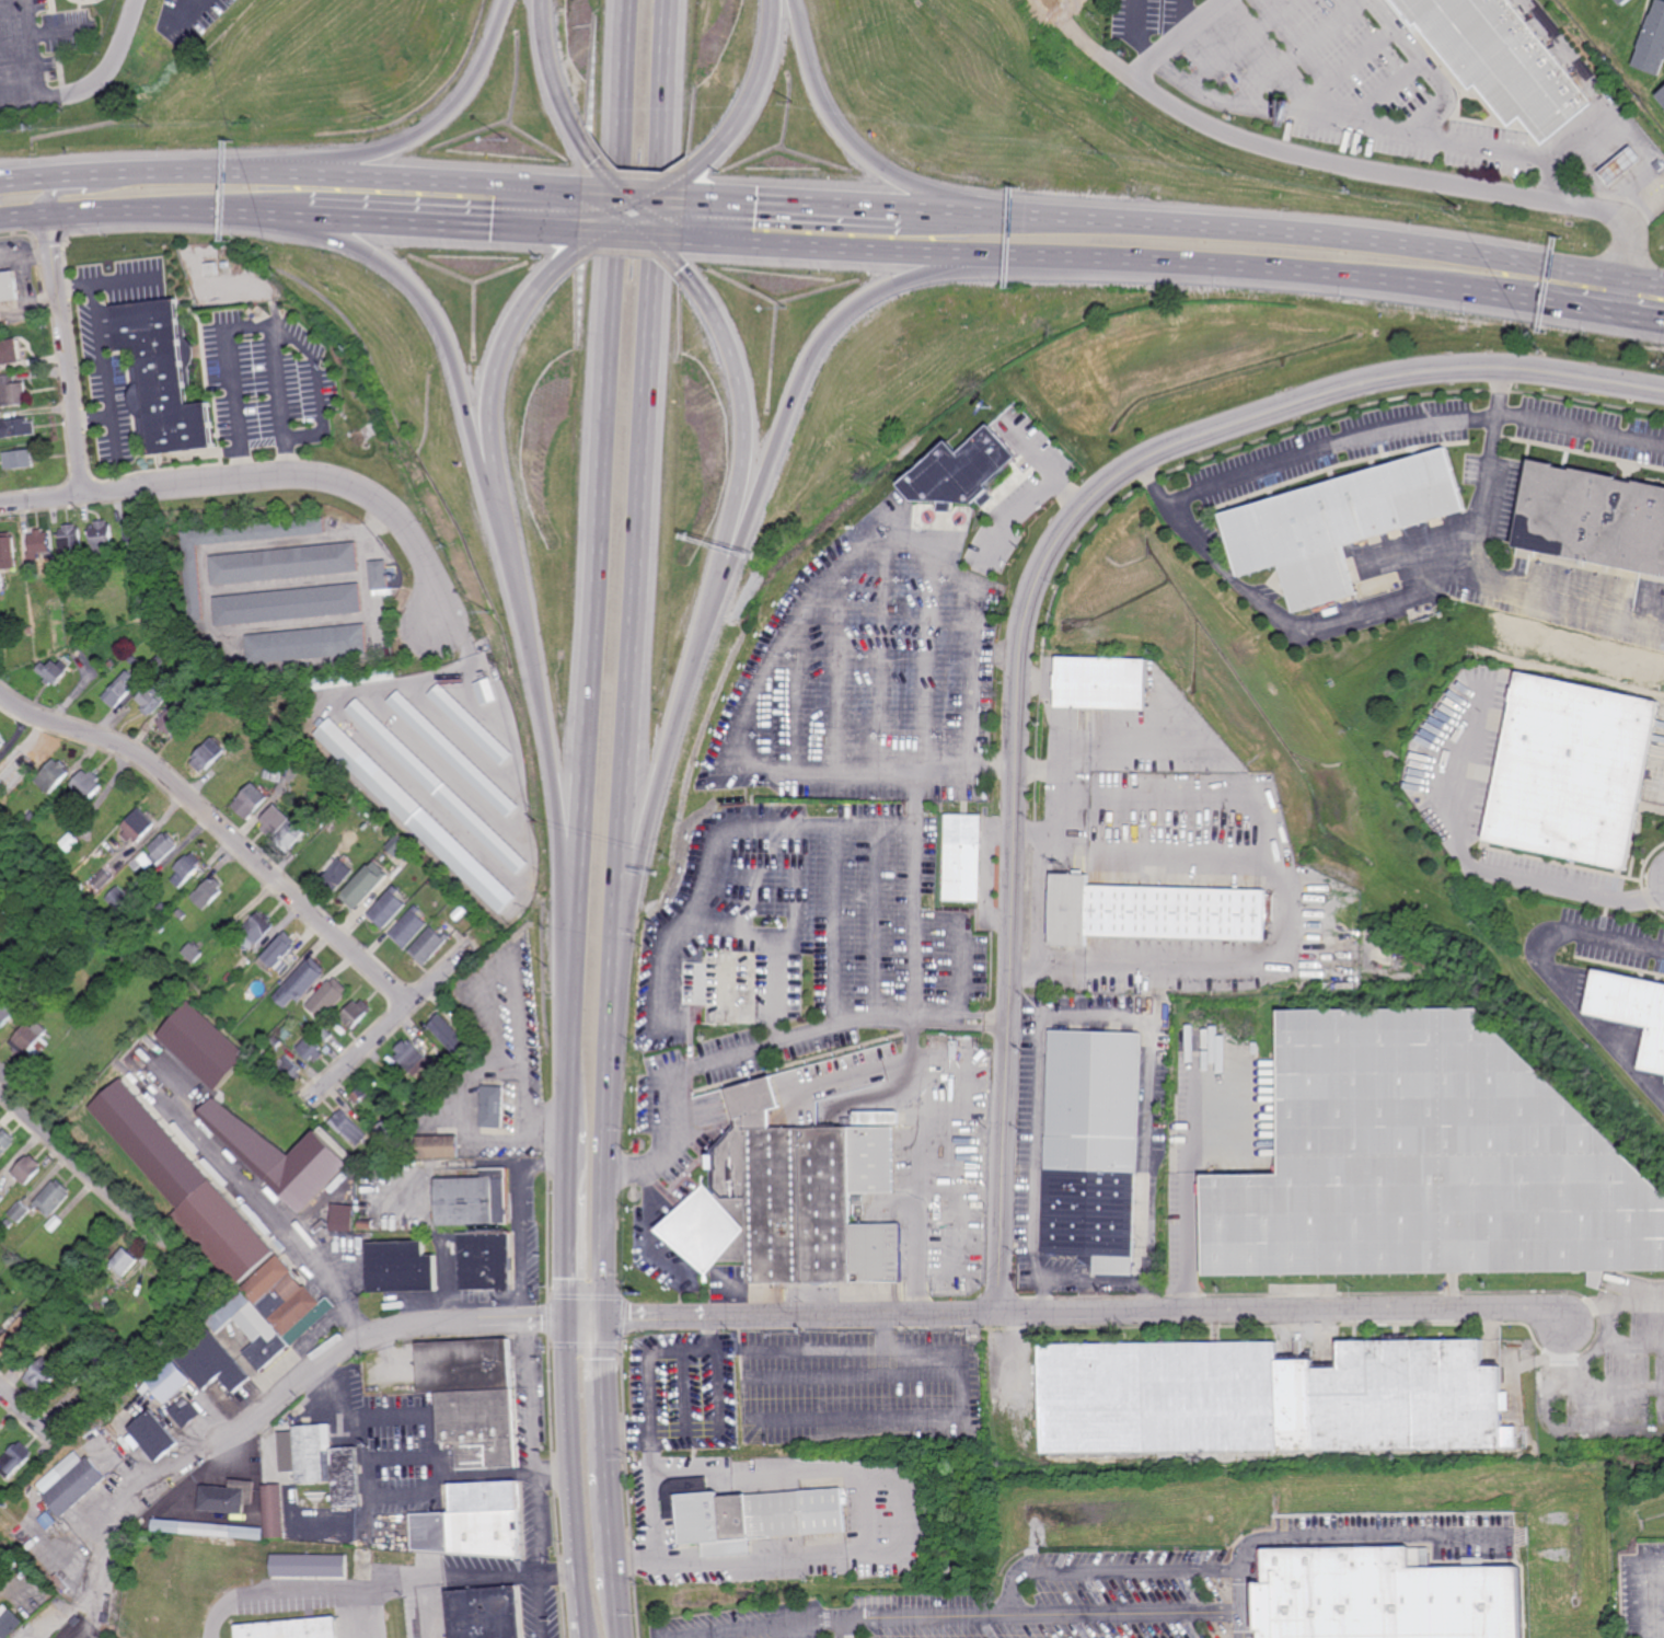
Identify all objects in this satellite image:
road: (2, 0)
building: (1621, 1)
road: (1185, 19)
parking lot: (50, 25)
road: (1136, 34)
building: (1652, 42)
road: (37, 48)
road: (1101, 56)
road: (116, 60)
building: (1503, 60)
road: (1426, 67)
road: (557, 77)
road: (54, 95)
building: (1662, 96)
road: (21, 97)
road: (755, 99)
road: (1602, 100)
road: (443, 120)
road: (1350, 124)
road: (843, 126)
street lamp: (507, 140)
traffic signals: (598, 161)
road: (1341, 165)
building: (1621, 165)
road: (183, 173)
road: (436, 178)
road: (25, 184)
road: (571, 189)
road: (636, 193)
road: (571, 194)
road: (629, 196)
road: (704, 197)
road: (49, 198)
traffic signals: (720, 198)
road: (638, 201)
road: (704, 203)
road: (811, 205)
road: (154, 210)
road: (924, 212)
road: (431, 223)
road: (569, 227)
road: (633, 227)
road: (638, 227)
traffic signals: (555, 232)
road: (569, 232)
road: (703, 233)
road: (635, 235)
road: (1306, 235)
road: (703, 240)
road: (851, 247)
building: (211, 268)
traffic signals: (687, 268)
road: (1324, 274)
building: (9, 286)
street lamp: (788, 305)
road: (273, 324)
road: (447, 328)
building: (10, 351)
road: (63, 355)
road: (502, 364)
building: (0, 369)
building: (165, 378)
road: (280, 382)
road: (804, 385)
building: (12, 391)
road: (748, 425)
road: (1410, 425)
building: (18, 427)
building: (19, 460)
building: (958, 472)
road: (277, 476)
road: (1153, 484)
road: (598, 489)
building: (154, 505)
road: (1026, 505)
building: (1593, 520)
building: (1339, 523)
building: (134, 530)
building: (102, 537)
building: (72, 538)
building: (39, 544)
building: (8, 553)
road: (512, 562)
building: (282, 563)
building: (60, 565)
road: (1472, 568)
building: (379, 574)
building: (190, 580)
road: (1031, 596)
building: (0, 597)
building: (286, 604)
building: (1320, 607)
building: (894, 609)
road: (205, 611)
building: (28, 628)
building: (305, 643)
building: (118, 658)
building: (132, 658)
road: (638, 659)
building: (112, 664)
building: (157, 664)
building: (54, 670)
building: (353, 678)
road: (1041, 681)
building: (1100, 681)
building: (120, 689)
building: (487, 691)
building: (154, 696)
building: (176, 717)
road: (1059, 718)
building: (472, 723)
building: (1, 734)
road: (974, 737)
building: (1, 743)
road: (1205, 748)
building: (453, 753)
building: (210, 754)
road: (996, 765)
building: (1572, 770)
road: (1055, 772)
building: (267, 773)
building: (277, 773)
building: (54, 774)
building: (88, 784)
building: (438, 784)
road: (661, 787)
road: (557, 798)
building: (250, 799)
road: (1066, 807)
building: (416, 815)
building: (273, 821)
building: (139, 824)
road: (219, 824)
building: (289, 835)
road: (1030, 835)
building: (349, 840)
building: (72, 841)
building: (398, 846)
building: (158, 851)
building: (962, 857)
building: (186, 868)
road: (1478, 870)
building: (337, 875)
building: (83, 876)
building: (103, 879)
road: (799, 879)
building: (366, 885)
building: (208, 892)
building: (443, 892)
building: (120, 899)
road: (1038, 903)
building: (389, 908)
building: (1153, 912)
road: (1292, 912)
road: (687, 923)
building: (187, 924)
building: (409, 927)
building: (257, 928)
road: (739, 930)
building: (160, 932)
road: (1608, 941)
building: (429, 945)
building: (279, 949)
building: (129, 953)
building: (194, 953)
building: (36, 960)
building: (244, 962)
building: (28, 968)
road: (1025, 971)
building: (5, 972)
building: (230, 978)
building: (300, 983)
building: (721, 987)
building: (327, 997)
road: (1160, 997)
building: (1631, 1010)
building: (7, 1011)
building: (355, 1013)
road: (397, 1013)
road: (950, 1020)
road: (933, 1022)
road: (999, 1022)
road: (1591, 1026)
building: (285, 1033)
building: (326, 1035)
building: (449, 1035)
building: (27, 1037)
building: (276, 1041)
building: (205, 1046)
building: (309, 1047)
building: (327, 1049)
building: (408, 1054)
road: (568, 1054)
building: (289, 1069)
building: (441, 1074)
building: (435, 1081)
building: (425, 1091)
building: (366, 1098)
building: (414, 1101)
building: (493, 1107)
road: (1037, 1109)
building: (876, 1118)
building: (349, 1128)
building: (396, 1128)
building: (383, 1134)
building: (332, 1140)
building: (5, 1142)
building: (438, 1147)
building: (1091, 1149)
building: (280, 1156)
building: (1426, 1162)
road: (80, 1166)
road: (1148, 1168)
building: (170, 1169)
building: (27, 1172)
road: (1188, 1190)
building: (1, 1199)
building: (791, 1199)
building: (54, 1200)
building: (473, 1200)
road: (917, 1207)
building: (21, 1213)
building: (344, 1224)
road: (566, 1224)
building: (9, 1225)
building: (56, 1225)
building: (367, 1225)
road: (521, 1225)
road: (649, 1230)
road: (299, 1232)
building: (224, 1234)
building: (125, 1260)
building: (484, 1261)
building: (160, 1267)
building: (402, 1267)
building: (119, 1284)
building: (287, 1299)
road: (724, 1301)
building: (58, 1305)
road: (1084, 1313)
traffic signals: (567, 1320)
traffic signals: (608, 1320)
building: (250, 1327)
road: (388, 1329)
building: (15, 1337)
road: (1564, 1339)
building: (212, 1362)
building: (96, 1365)
building: (43, 1374)
building: (170, 1380)
building: (474, 1397)
building: (1269, 1397)
road: (26, 1412)
building: (186, 1414)
road: (434, 1420)
road: (719, 1424)
road: (632, 1433)
building: (154, 1434)
road: (568, 1441)
road: (611, 1453)
building: (14, 1458)
building: (327, 1462)
road: (554, 1475)
road: (817, 1478)
road: (539, 1479)
building: (70, 1483)
building: (227, 1496)
road: (371, 1501)
power tower: (2, 1510)
building: (274, 1510)
building: (749, 1514)
road: (657, 1516)
building: (474, 1521)
building: (207, 1531)
road: (1368, 1534)
building: (309, 1566)
road: (1131, 1570)
road: (379, 1588)
building: (1386, 1595)
road: (1651, 1599)
road: (579, 1600)
road: (1244, 1603)
road: (426, 1608)
building: (485, 1612)
road: (623, 1612)
road: (357, 1614)
road: (1125, 1614)
road: (856, 1617)
building: (9, 1622)
road: (845, 1627)
building: (290, 1629)
road: (802, 1629)

